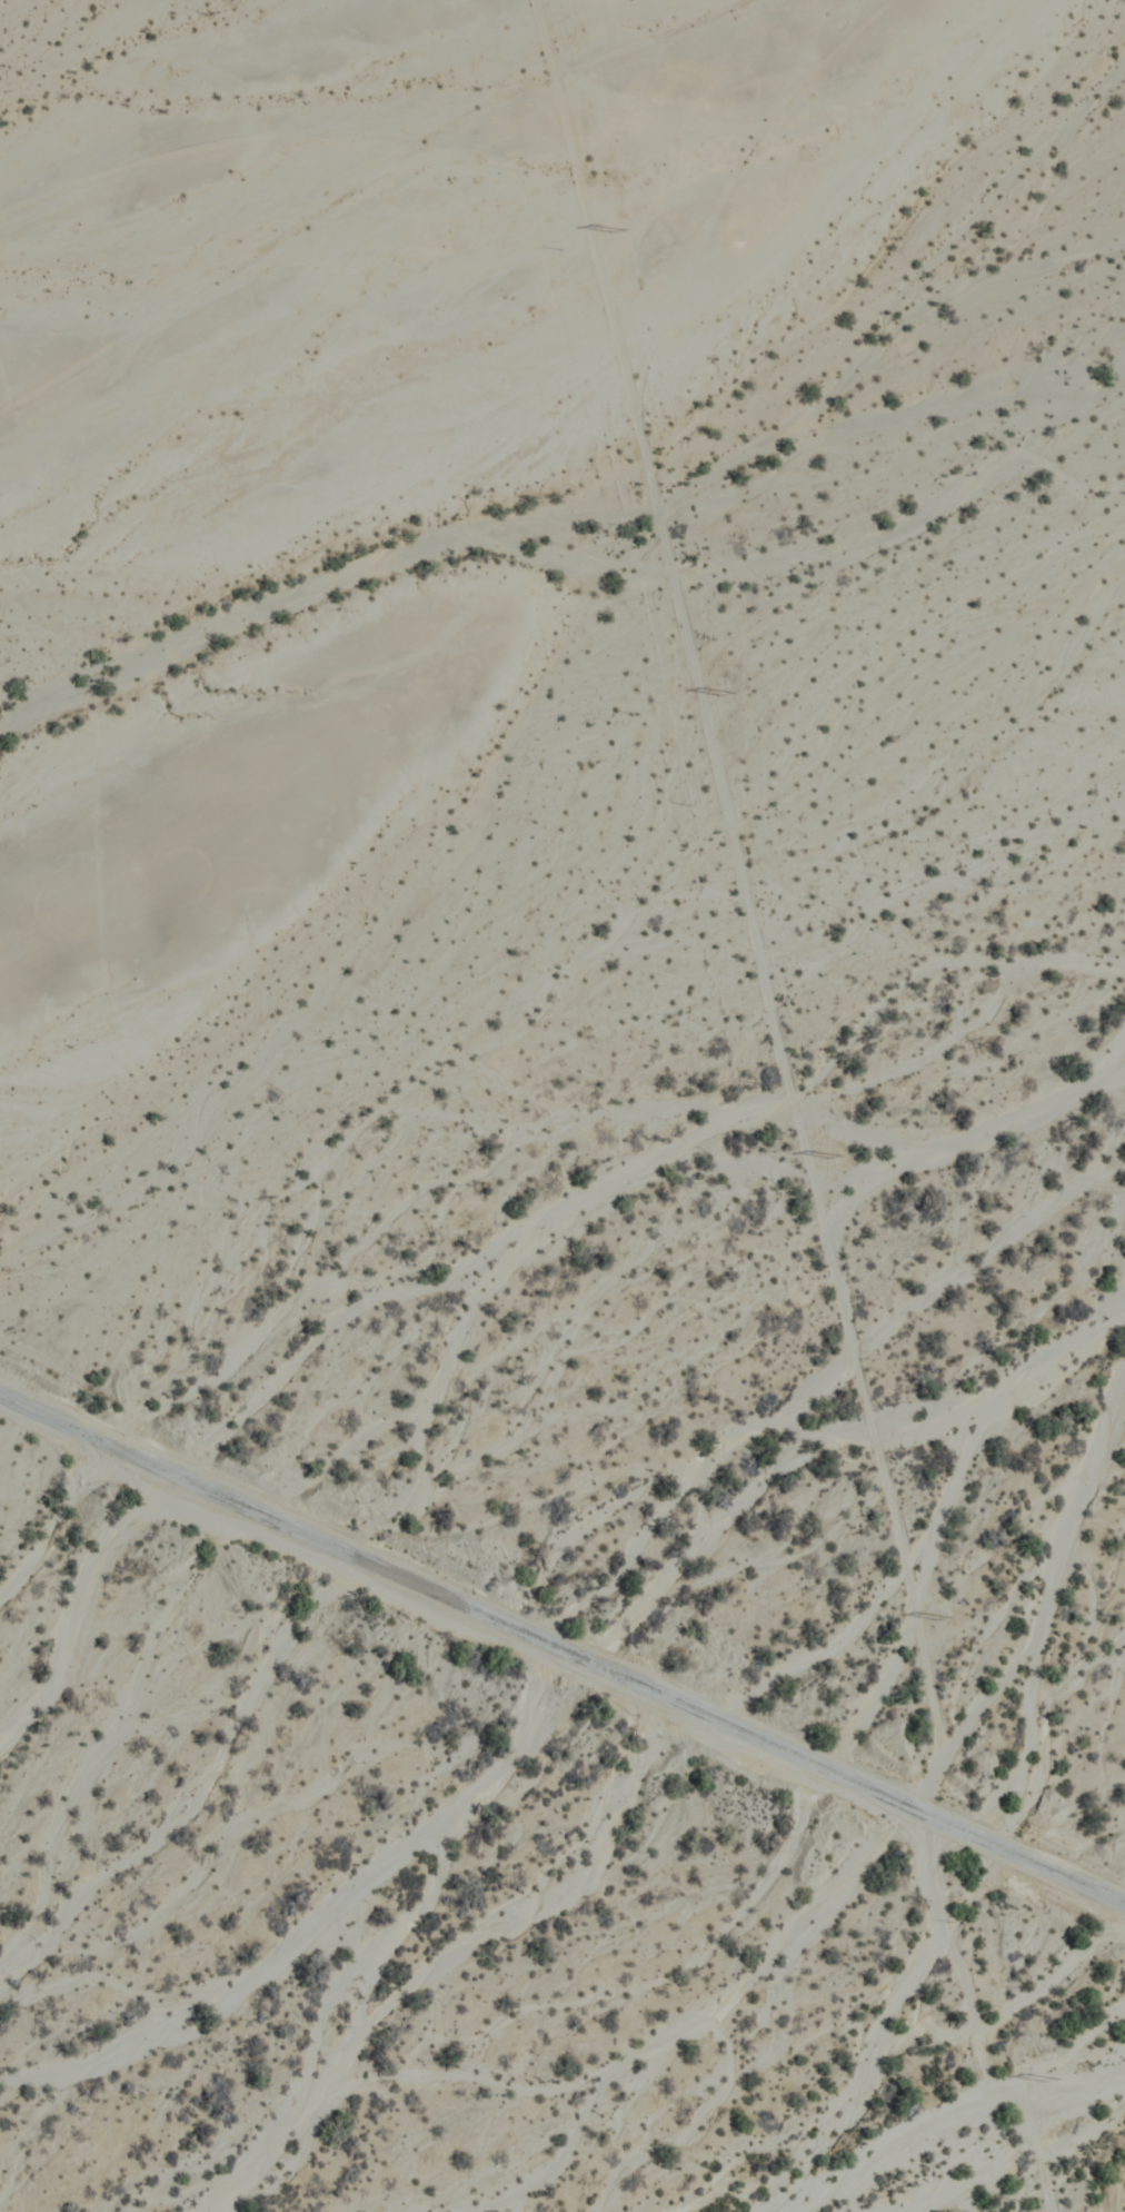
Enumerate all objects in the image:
power tower: (618, 232)
power tower: (729, 698)
power tower: (839, 1158)
power tower: (942, 1619)
road: (561, 1653)
road: (969, 2021)
power tower: (1047, 2081)

